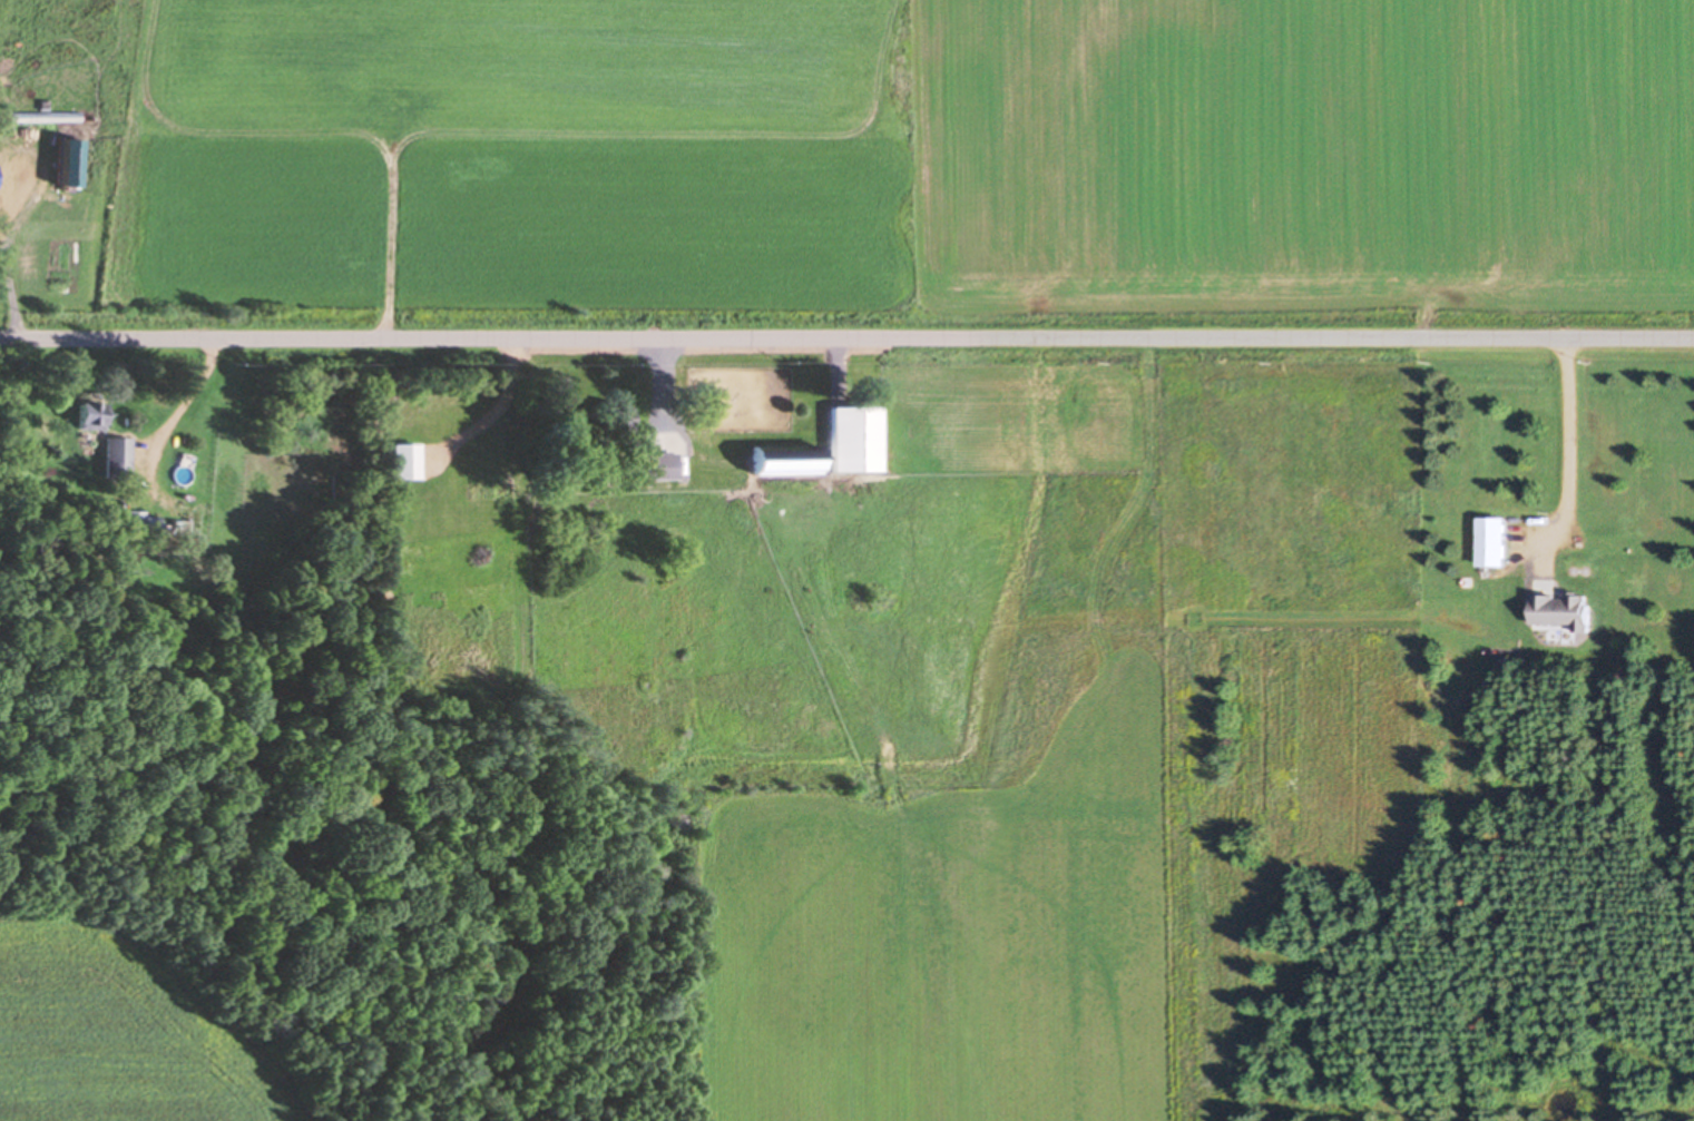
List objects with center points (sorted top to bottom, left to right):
road: (846, 337)
building: (853, 436)
building: (116, 455)
building: (782, 456)
building: (402, 459)
building: (658, 463)
building: (1489, 539)
building: (1559, 608)

